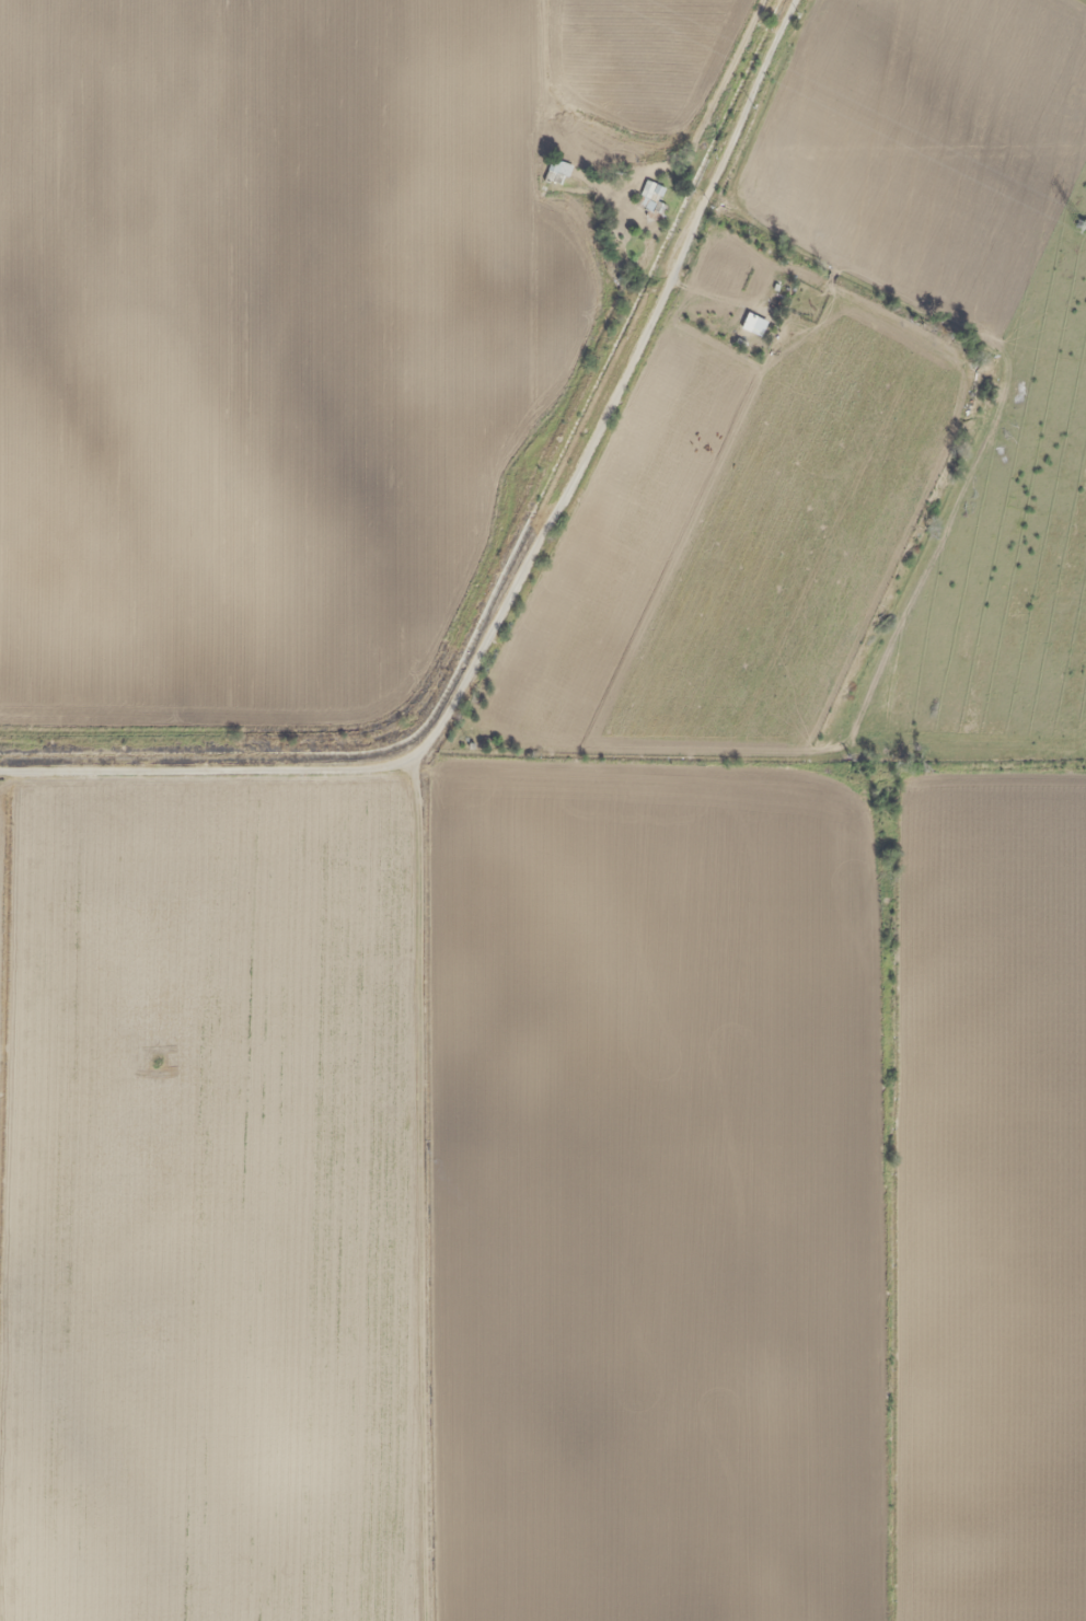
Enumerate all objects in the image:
power tower: (1083, 225)

